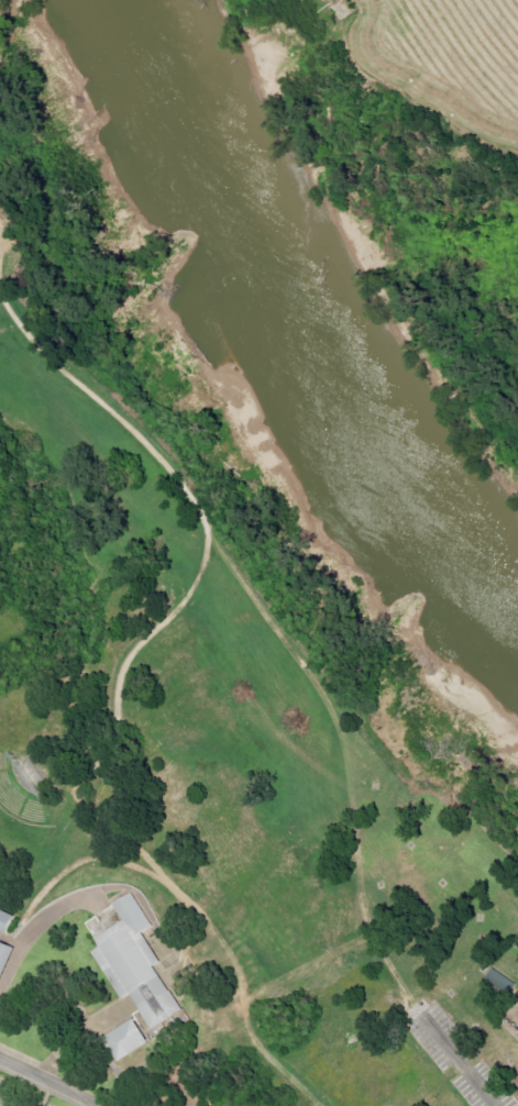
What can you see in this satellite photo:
road: (13, 240)
river: (345, 285)
road: (206, 567)
road: (282, 621)
park: (213, 720)
road: (107, 869)
road: (173, 889)
building: (4, 921)
building: (3, 954)
building: (129, 974)
building: (498, 981)
road: (110, 1003)
road: (250, 1035)
parking lot: (460, 1059)
road: (467, 1065)
road: (63, 1066)
road: (49, 1081)
parking lot: (16, 1097)

